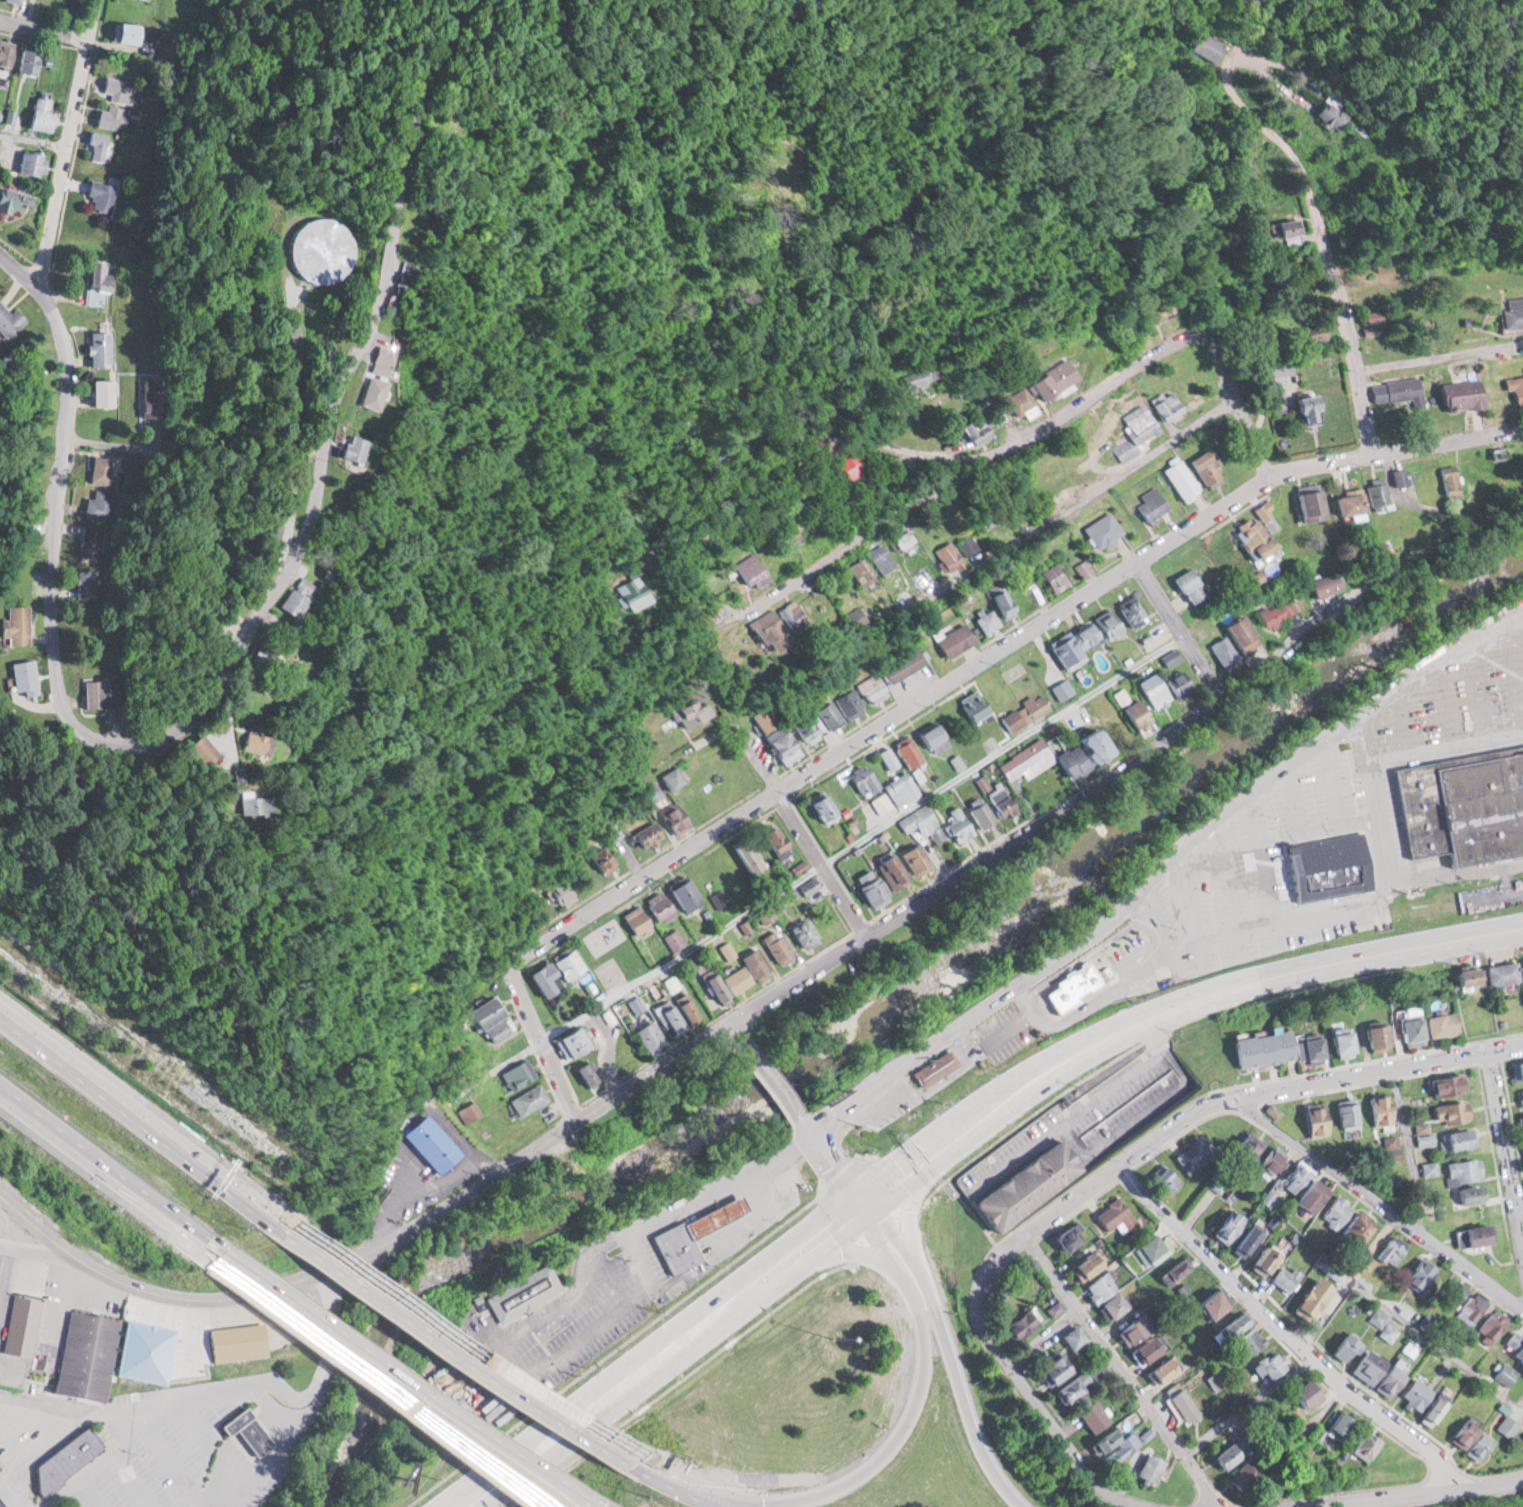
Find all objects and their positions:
building: (18, 1)
road: (43, 29)
building: (129, 31)
building: (1202, 46)
building: (8, 53)
building: (35, 61)
building: (46, 115)
building: (1324, 115)
building: (114, 116)
road: (66, 139)
road: (32, 141)
building: (100, 146)
building: (34, 162)
building: (103, 195)
building: (13, 199)
building: (1279, 226)
building: (322, 248)
water tower: (305, 264)
road: (19, 267)
road: (1333, 267)
building: (101, 281)
building: (1147, 311)
building: (1510, 312)
building: (11, 319)
building: (1307, 332)
building: (103, 348)
building: (402, 358)
building: (1279, 365)
building: (1049, 378)
building: (909, 379)
building: (1512, 388)
building: (395, 390)
building: (1395, 390)
building: (107, 391)
road: (1093, 391)
building: (1456, 393)
road: (1239, 398)
building: (155, 401)
building: (1017, 403)
building: (1163, 404)
building: (1302, 408)
building: (970, 431)
building: (1133, 431)
road: (1487, 435)
building: (375, 446)
building: (1204, 466)
building: (102, 469)
building: (839, 469)
building: (1395, 475)
building: (1176, 478)
building: (1446, 479)
building: (1376, 491)
road: (1063, 499)
building: (1147, 502)
building: (1341, 502)
building: (100, 504)
building: (1304, 504)
building: (782, 529)
building: (1099, 530)
building: (1250, 530)
road: (850, 539)
building: (899, 539)
building: (94, 540)
building: (967, 544)
building: (943, 556)
building: (876, 558)
building: (1083, 567)
building: (745, 570)
building: (856, 572)
building: (1051, 576)
building: (91, 583)
building: (1185, 585)
building: (1322, 585)
building: (629, 593)
building: (318, 596)
building: (1131, 607)
building: (993, 610)
building: (1275, 613)
building: (784, 615)
building: (849, 619)
building: (24, 624)
road: (1178, 629)
building: (761, 631)
building: (1238, 635)
building: (1082, 638)
building: (949, 640)
road: (251, 642)
building: (1221, 651)
building: (899, 665)
road: (1515, 666)
building: (40, 678)
building: (1161, 686)
road: (1479, 688)
building: (869, 689)
building: (120, 692)
street lamp: (1502, 692)
road: (1444, 702)
building: (973, 707)
building: (838, 710)
street lamp: (1425, 710)
building: (688, 711)
road: (898, 714)
building: (1135, 714)
building: (759, 718)
road: (1406, 719)
building: (803, 726)
building: (931, 737)
building: (294, 738)
road: (745, 744)
building: (780, 745)
road: (1446, 746)
building: (241, 748)
building: (906, 751)
building: (1055, 756)
building: (887, 757)
building: (681, 778)
building: (863, 779)
road: (1332, 780)
street lamp: (1363, 781)
building: (900, 787)
road: (1295, 796)
road: (1377, 798)
building: (881, 803)
building: (305, 804)
building: (989, 805)
street lamp: (1278, 805)
building: (822, 807)
building: (1481, 807)
building: (1419, 809)
road: (1044, 814)
building: (684, 816)
building: (920, 822)
building: (957, 825)
road: (1289, 832)
building: (654, 835)
road: (863, 837)
building: (765, 843)
building: (611, 857)
building: (912, 857)
road: (823, 861)
building: (1329, 862)
road: (1163, 866)
building: (798, 867)
building: (887, 869)
road: (1458, 873)
building: (733, 876)
street lamp: (1212, 890)
building: (569, 891)
building: (869, 891)
building: (691, 894)
road: (1236, 900)
building: (665, 905)
road: (1192, 908)
road: (1277, 917)
building: (641, 919)
building: (677, 939)
building: (782, 945)
parking lot: (1128, 946)
road: (1093, 949)
building: (761, 964)
building: (1502, 971)
building: (561, 972)
building: (1465, 976)
building: (734, 982)
road: (1116, 982)
building: (1072, 986)
road: (1023, 988)
building: (494, 1012)
building: (680, 1013)
building: (1440, 1022)
road: (1014, 1024)
building: (1409, 1028)
parking lot: (1005, 1031)
road: (743, 1032)
road: (1160, 1032)
building: (654, 1035)
building: (1375, 1035)
building: (1336, 1042)
building: (578, 1043)
building: (1276, 1043)
building: (1259, 1047)
building: (1308, 1048)
building: (1240, 1051)
building: (935, 1066)
building: (1516, 1069)
building: (522, 1074)
road: (778, 1079)
building: (1441, 1085)
road: (927, 1089)
building: (1520, 1095)
road: (1226, 1096)
building: (532, 1099)
parking lot: (1133, 1104)
parking lot: (1082, 1107)
building: (895, 1110)
parking lot: (895, 1110)
building: (1273, 1110)
building: (1378, 1110)
building: (471, 1111)
building: (1448, 1111)
building: (1347, 1115)
road: (142, 1116)
road: (1139, 1116)
road: (1070, 1118)
building: (1520, 1119)
building: (1314, 1120)
road: (1508, 1132)
building: (1423, 1133)
building: (1454, 1139)
road: (949, 1140)
building: (438, 1144)
building: (1247, 1147)
building: (1393, 1147)
road: (1410, 1149)
building: (1192, 1153)
road: (834, 1158)
building: (1268, 1160)
building: (1460, 1170)
road: (104, 1174)
building: (1290, 1178)
building: (1165, 1179)
building: (1028, 1182)
building: (1467, 1194)
building: (1306, 1195)
road: (1379, 1199)
road: (708, 1202)
traffic signals: (866, 1202)
road: (1521, 1206)
road: (911, 1211)
building: (1331, 1211)
road: (770, 1214)
building: (1117, 1216)
road: (419, 1217)
road: (36, 1225)
building: (1224, 1226)
building: (1351, 1229)
building: (1469, 1235)
building: (1068, 1237)
building: (1241, 1240)
building: (1153, 1247)
road: (36, 1248)
building: (677, 1248)
road: (851, 1251)
building: (1389, 1251)
road: (635, 1253)
building: (1257, 1260)
building: (1082, 1266)
building: (1171, 1270)
building: (1415, 1273)
building: (1281, 1275)
road: (609, 1277)
road: (1350, 1279)
building: (1452, 1291)
building: (524, 1294)
building: (1104, 1295)
building: (1305, 1297)
building: (1206, 1305)
building: (1055, 1308)
road: (533, 1317)
building: (1482, 1317)
building: (25, 1324)
building: (1018, 1324)
building: (1225, 1327)
building: (1133, 1328)
road: (1284, 1328)
road: (332, 1332)
road: (1046, 1333)
building: (1386, 1333)
building: (1074, 1339)
road: (461, 1340)
building: (1247, 1341)
building: (243, 1342)
road: (1437, 1343)
building: (1515, 1343)
building: (1147, 1347)
building: (1340, 1348)
building: (1408, 1348)
building: (151, 1351)
road: (952, 1351)
building: (91, 1355)
road: (556, 1355)
building: (1268, 1365)
road: (1124, 1367)
building: (1052, 1369)
building: (1159, 1371)
building: (1372, 1372)
building: (1522, 1372)
building: (1505, 1374)
building: (1080, 1381)
road: (225, 1388)
road: (459, 1392)
building: (1410, 1394)
building: (1296, 1401)
building: (1182, 1403)
road: (1043, 1404)
road: (1250, 1406)
building: (1426, 1410)
building: (1091, 1416)
road: (905, 1418)
building: (1333, 1425)
building: (1508, 1425)
building: (253, 1431)
building: (1465, 1439)
building: (1115, 1444)
building: (1360, 1444)
road: (128, 1449)
building: (73, 1457)
building: (1220, 1457)
road: (507, 1462)
road: (527, 1462)
building: (2, 1466)
building: (1147, 1469)
road: (672, 1471)
road: (1406, 1493)
road: (727, 1496)
building: (5, 1499)

